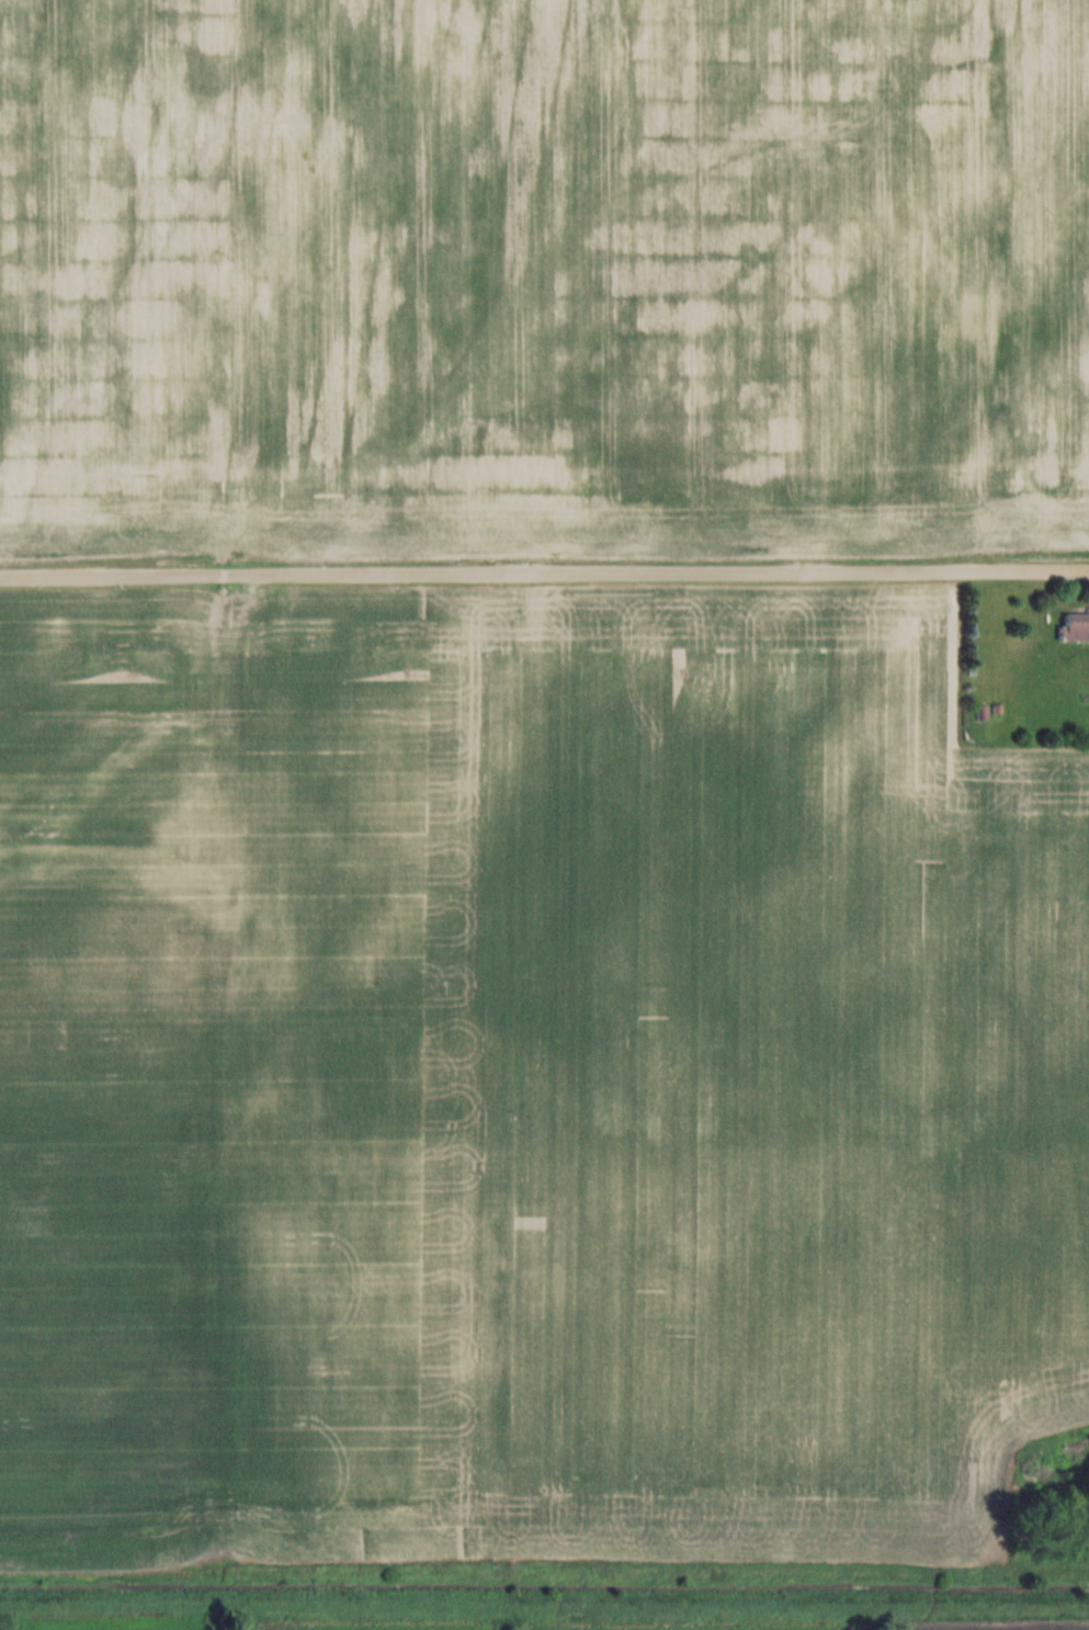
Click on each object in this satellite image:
road: (544, 574)
building: (1076, 624)

